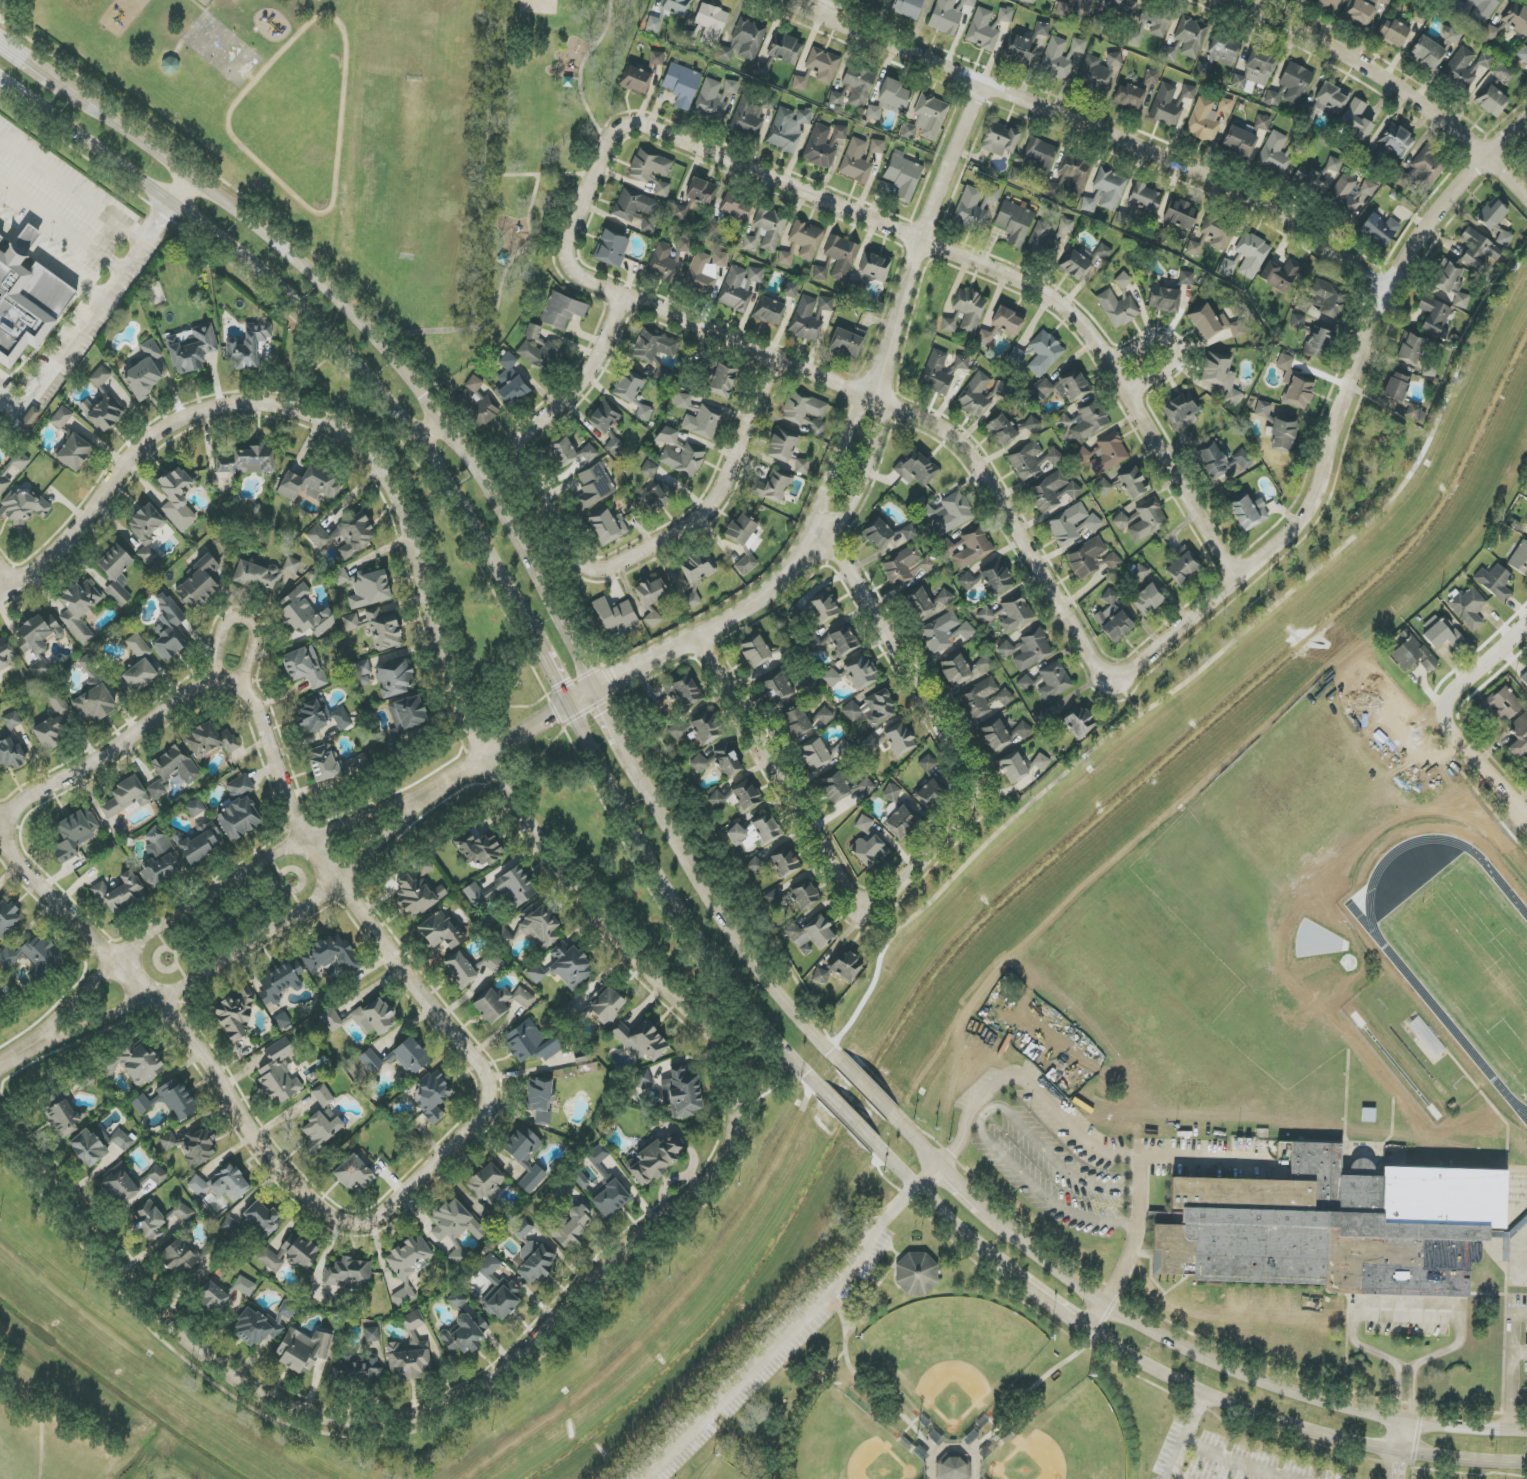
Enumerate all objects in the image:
building: (1058, 0)
building: (877, 1)
building: (1027, 1)
building: (205, 3)
building: (968, 3)
building: (1328, 3)
building: (1122, 6)
building: (676, 7)
building: (908, 8)
building: (1075, 8)
building: (1482, 9)
road: (819, 10)
building: (1363, 10)
building: (1005, 14)
building: (945, 16)
building: (1516, 19)
building: (653, 24)
building: (711, 24)
building: (1150, 25)
building: (983, 29)
building: (1042, 29)
building: (1493, 31)
building: (1393, 32)
building: (1452, 35)
building: (692, 36)
building: (1191, 36)
building: (743, 42)
road: (10, 48)
building: (785, 49)
building: (1020, 50)
building: (1169, 52)
building: (1427, 53)
building: (1219, 54)
building: (1523, 54)
building: (1060, 56)
building: (656, 59)
building: (1483, 63)
building: (822, 65)
road: (36, 66)
building: (1460, 68)
building: (762, 69)
building: (1256, 70)
road: (580, 73)
building: (1097, 73)
building: (1501, 74)
building: (635, 80)
road: (1387, 80)
building: (1296, 83)
building: (859, 84)
building: (681, 85)
building: (1135, 94)
building: (1187, 94)
building: (715, 97)
building: (836, 98)
building: (890, 99)
building: (1492, 101)
building: (1327, 102)
building: (1166, 107)
building: (931, 115)
building: (749, 116)
building: (1207, 117)
building: (1356, 120)
building: (1262, 123)
road: (1088, 126)
building: (787, 128)
building: (909, 131)
building: (840, 132)
building: (1000, 139)
building: (1396, 140)
building: (1240, 141)
building: (877, 146)
building: (819, 148)
building: (1040, 154)
building: (1275, 155)
park: (530, 156)
building: (856, 162)
road: (483, 164)
building: (650, 167)
building: (1422, 170)
road: (540, 175)
building: (1315, 175)
building: (903, 176)
building: (1070, 178)
road: (72, 189)
building: (662, 189)
road: (186, 191)
building: (701, 191)
building: (1105, 191)
building: (1350, 193)
building: (991, 195)
building: (1145, 198)
building: (633, 205)
building: (735, 207)
building: (970, 210)
building: (1181, 214)
building: (1122, 219)
building: (1014, 222)
building: (1495, 222)
road: (62, 225)
building: (648, 225)
building: (1379, 229)
building: (766, 231)
building: (1211, 237)
building: (0, 238)
road: (920, 238)
building: (806, 239)
building: (1048, 239)
building: (611, 248)
building: (1477, 250)
building: (1103, 251)
building: (1251, 255)
building: (841, 256)
building: (785, 258)
building: (668, 260)
building: (1075, 266)
building: (1226, 267)
building: (874, 268)
building: (705, 271)
building: (820, 273)
road: (1004, 274)
building: (1280, 275)
building: (1186, 278)
building: (1123, 280)
building: (1451, 282)
building: (739, 287)
building: (790, 290)
building: (27, 299)
road: (498, 299)
building: (1164, 299)
building: (1325, 300)
building: (825, 303)
building: (1118, 309)
building: (969, 310)
building: (561, 311)
building: (769, 311)
road: (309, 315)
building: (1434, 316)
road: (90, 318)
building: (806, 320)
building: (1298, 321)
building: (1215, 324)
building: (948, 325)
building: (1002, 325)
building: (534, 333)
road: (380, 334)
building: (848, 342)
building: (1318, 343)
building: (247, 346)
road: (1174, 347)
building: (1410, 348)
building: (191, 349)
building: (655, 351)
building: (540, 353)
building: (1044, 353)
building: (941, 371)
building: (145, 372)
road: (816, 375)
building: (1220, 375)
building: (100, 376)
building: (723, 380)
building: (511, 382)
building: (1295, 384)
building: (629, 385)
building: (1396, 387)
building: (1062, 388)
building: (980, 395)
building: (681, 401)
building: (477, 402)
road: (557, 407)
building: (102, 412)
building: (644, 412)
building: (1180, 412)
building: (1413, 412)
building: (806, 413)
road: (1337, 416)
building: (605, 417)
building: (61, 418)
building: (29, 419)
building: (703, 422)
building: (1085, 422)
building: (1032, 425)
road: (306, 428)
building: (1277, 428)
building: (1001, 430)
road: (437, 438)
building: (783, 445)
building: (614, 446)
building: (74, 452)
building: (563, 452)
building: (588, 453)
building: (679, 453)
building: (1104, 454)
building: (1054, 457)
building: (248, 460)
building: (1027, 460)
road: (838, 461)
building: (1220, 461)
building: (802, 466)
building: (915, 467)
building: (649, 469)
building: (12, 471)
road: (862, 472)
building: (1125, 484)
building: (310, 485)
building: (594, 485)
building: (773, 487)
building: (1053, 491)
building: (656, 497)
building: (177, 499)
building: (23, 507)
building: (1249, 513)
building: (948, 514)
road: (691, 520)
building: (1148, 520)
building: (1121, 521)
building: (1073, 524)
building: (608, 526)
building: (146, 530)
building: (742, 532)
building: (908, 533)
building: (879, 534)
building: (345, 535)
building: (968, 549)
building: (1085, 558)
building: (1519, 558)
building: (1112, 561)
building: (746, 565)
building: (907, 566)
building: (697, 568)
building: (1183, 568)
building: (1139, 573)
road: (5, 574)
building: (116, 574)
building: (264, 574)
building: (341, 577)
building: (990, 578)
building: (1494, 582)
building: (199, 583)
building: (369, 589)
building: (652, 598)
building: (1147, 600)
building: (690, 601)
building: (926, 603)
building: (823, 607)
building: (1468, 608)
building: (79, 609)
building: (304, 613)
building: (1015, 613)
building: (615, 616)
building: (985, 616)
road: (243, 619)
building: (350, 622)
building: (1117, 627)
building: (168, 628)
building: (384, 630)
building: (945, 633)
building: (1440, 633)
building: (834, 642)
building: (37, 643)
building: (138, 647)
building: (1027, 650)
building: (755, 652)
building: (6, 655)
building: (1412, 655)
road: (904, 663)
building: (304, 667)
building: (363, 668)
road: (551, 668)
road: (638, 669)
road: (1201, 671)
building: (854, 674)
building: (138, 676)
building: (395, 678)
building: (1524, 678)
building: (1054, 681)
building: (1024, 683)
building: (778, 688)
building: (683, 691)
building: (982, 699)
building: (57, 702)
building: (94, 704)
building: (1502, 704)
building: (880, 708)
building: (852, 711)
building: (407, 714)
building: (314, 715)
building: (824, 716)
building: (1042, 718)
building: (341, 719)
building: (797, 721)
road: (1447, 721)
road: (613, 723)
building: (1080, 723)
building: (677, 728)
building: (706, 728)
building: (49, 733)
building: (1003, 735)
building: (1519, 737)
building: (900, 739)
building: (210, 741)
road: (107, 744)
building: (869, 744)
building: (842, 750)
building: (11, 755)
building: (815, 755)
building: (323, 762)
building: (719, 762)
building: (1041, 762)
building: (1525, 763)
building: (1014, 768)
building: (173, 769)
building: (930, 785)
building: (843, 788)
building: (892, 792)
building: (747, 796)
building: (124, 798)
building: (717, 799)
building: (195, 808)
building: (239, 809)
road: (5, 814)
building: (902, 822)
building: (864, 825)
building: (755, 833)
building: (75, 834)
road: (819, 839)
road: (3, 846)
building: (200, 847)
building: (478, 849)
building: (869, 851)
building: (160, 859)
building: (786, 864)
building: (755, 866)
road: (222, 885)
building: (515, 887)
building: (118, 893)
building: (474, 894)
building: (417, 896)
building: (795, 897)
road: (672, 900)
road: (718, 908)
building: (7, 917)
building: (541, 927)
building: (441, 932)
building: (810, 935)
building: (504, 937)
road: (257, 939)
park: (1458, 948)
building: (329, 957)
stadium: (1448, 959)
building: (845, 964)
building: (570, 966)
building: (460, 970)
building: (535, 973)
building: (821, 976)
building: (280, 982)
building: (500, 1003)
building: (606, 1004)
building: (236, 1014)
building: (375, 1017)
building: (332, 1020)
track: (1441, 1023)
building: (1427, 1035)
building: (641, 1041)
building: (531, 1043)
road: (21, 1055)
building: (409, 1056)
building: (370, 1061)
building: (133, 1063)
building: (279, 1073)
building: (642, 1079)
building: (86, 1081)
road: (861, 1086)
building: (683, 1093)
building: (169, 1100)
building: (540, 1100)
road: (839, 1110)
building: (62, 1115)
building: (321, 1122)
road: (979, 1123)
road: (1084, 1139)
building: (168, 1142)
road: (920, 1142)
building: (98, 1145)
building: (197, 1147)
building: (525, 1157)
building: (655, 1160)
road: (1186, 1160)
building: (157, 1174)
building: (354, 1174)
building: (604, 1174)
road: (930, 1174)
building: (581, 1180)
road: (416, 1182)
building: (486, 1182)
road: (966, 1183)
building: (119, 1184)
building: (222, 1184)
road: (941, 1208)
building: (493, 1214)
building: (263, 1218)
building: (158, 1219)
building: (1334, 1227)
building: (455, 1228)
building: (521, 1229)
building: (571, 1229)
building: (289, 1254)
road: (1045, 1255)
building: (408, 1257)
building: (179, 1258)
road: (1520, 1259)
building: (533, 1261)
building: (916, 1272)
building: (348, 1274)
building: (244, 1286)
building: (498, 1291)
building: (212, 1297)
building: (403, 1297)
building: (457, 1300)
road: (1047, 1300)
road: (1408, 1301)
road: (1096, 1315)
building: (261, 1325)
road: (569, 1329)
building: (372, 1334)
building: (465, 1334)
road: (1513, 1335)
road: (788, 1337)
building: (303, 1349)
building: (410, 1351)
building: (355, 1368)
road: (867, 1384)
park: (927, 1387)
road: (1512, 1392)
road: (1299, 1394)
road: (1404, 1414)
road: (1194, 1415)
road: (1404, 1420)
road: (1519, 1428)
road: (1296, 1431)
park: (63, 1435)
road: (1401, 1439)
road: (973, 1445)
road: (1174, 1458)
road: (1247, 1458)
road: (939, 1466)
road: (1396, 1466)
building: (953, 1468)

